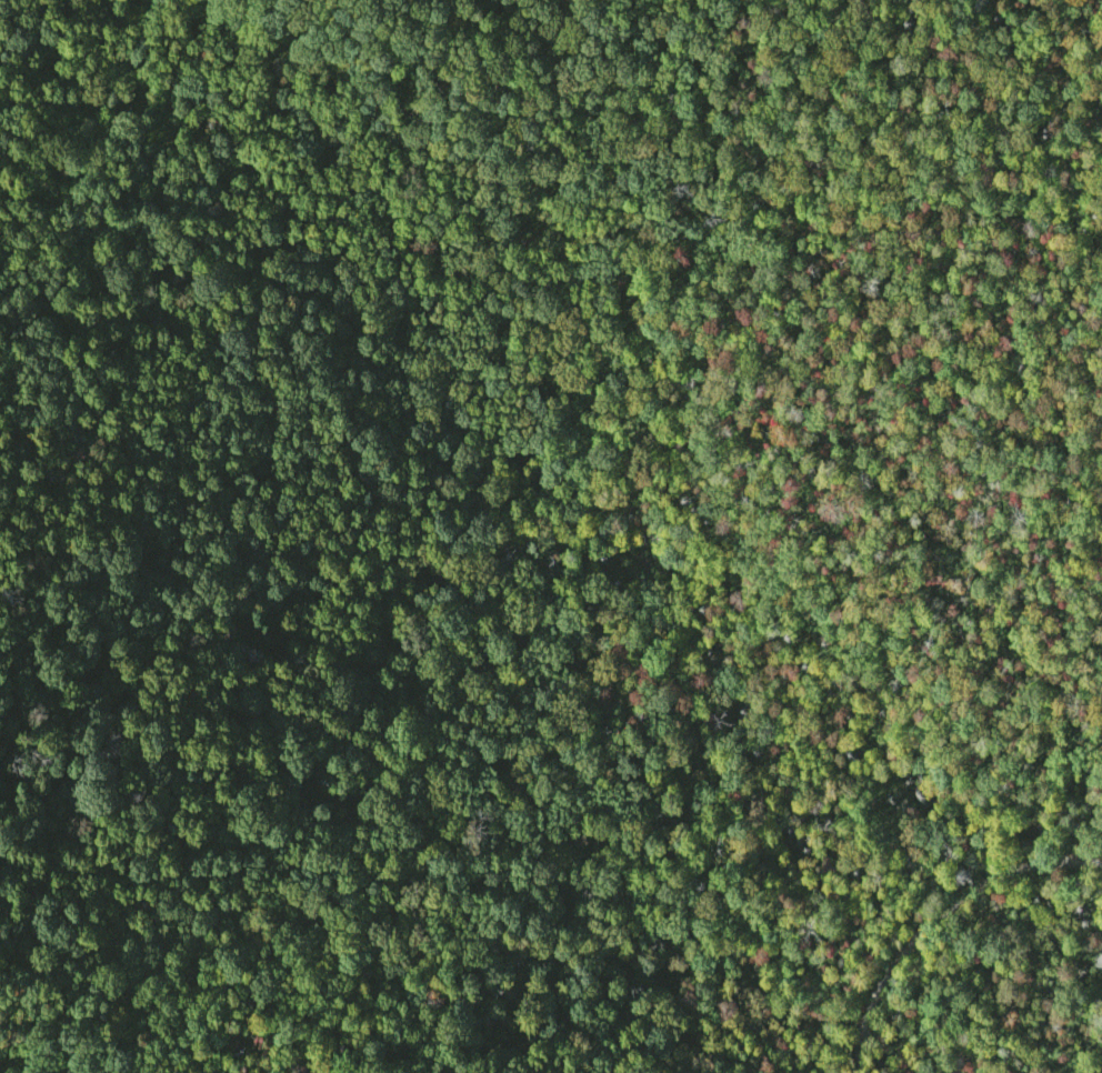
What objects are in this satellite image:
road: (938, 919)

